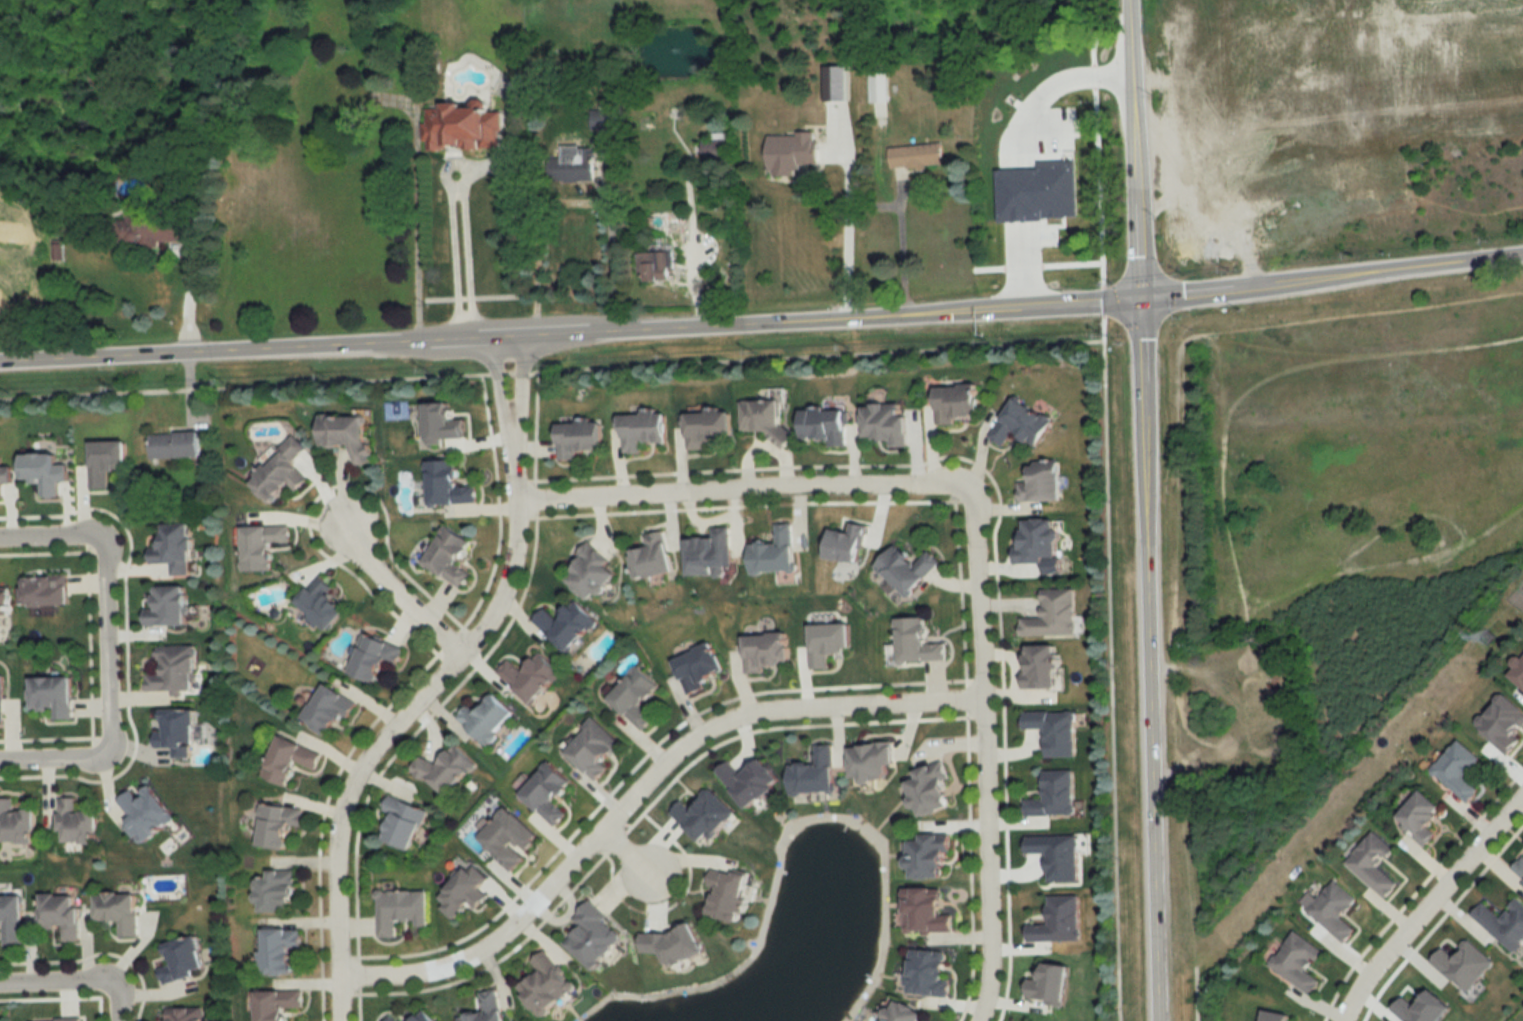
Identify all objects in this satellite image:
road: (1055, 84)
building: (1004, 99)
building: (604, 120)
building: (464, 128)
building: (715, 149)
building: (918, 156)
building: (994, 160)
building: (573, 164)
building: (1037, 184)
road: (571, 200)
building: (148, 227)
road: (847, 230)
road: (907, 257)
road: (466, 258)
road: (1025, 263)
building: (654, 267)
road: (188, 295)
road: (762, 324)
building: (959, 403)
building: (766, 419)
building: (887, 423)
building: (1022, 424)
building: (827, 426)
building: (708, 428)
building: (643, 431)
road: (512, 433)
building: (346, 434)
building: (578, 439)
building: (174, 445)
building: (106, 462)
building: (46, 472)
building: (280, 473)
building: (5, 477)
building: (447, 485)
building: (1043, 485)
road: (741, 491)
road: (1145, 510)
road: (49, 541)
building: (1040, 542)
building: (848, 544)
building: (261, 546)
building: (175, 549)
building: (775, 553)
building: (710, 555)
building: (449, 557)
building: (653, 557)
building: (908, 569)
building: (592, 573)
road: (389, 590)
building: (46, 592)
building: (5, 604)
building: (323, 605)
building: (169, 608)
building: (1053, 615)
building: (567, 626)
power tower: (1484, 637)
building: (918, 642)
road: (106, 649)
building: (766, 653)
building: (374, 659)
building: (1042, 667)
building: (700, 668)
building: (174, 671)
building: (531, 678)
building: (636, 697)
building: (54, 698)
building: (1, 705)
building: (328, 711)
road: (402, 718)
building: (487, 719)
building: (179, 730)
building: (1055, 731)
building: (594, 750)
road: (984, 758)
building: (288, 761)
road: (54, 763)
building: (872, 763)
building: (1459, 771)
building: (445, 772)
building: (815, 774)
building: (749, 783)
building: (931, 791)
building: (547, 793)
road: (638, 793)
building: (1055, 796)
building: (146, 814)
building: (705, 817)
building: (1421, 818)
building: (403, 823)
building: (78, 824)
building: (16, 825)
building: (277, 825)
building: (509, 839)
building: (1057, 856)
road: (627, 857)
building: (929, 859)
building: (1373, 864)
building: (1519, 867)
building: (276, 892)
building: (465, 892)
building: (728, 895)
road: (1429, 906)
building: (119, 910)
building: (400, 910)
building: (1334, 911)
building: (924, 912)
building: (61, 913)
building: (11, 918)
building: (1059, 922)
building: (1504, 924)
building: (592, 936)
building: (671, 945)
building: (280, 949)
building: (183, 959)
building: (1298, 963)
building: (928, 973)
building: (546, 986)
road: (55, 987)
road: (119, 1004)
building: (277, 1004)
building: (488, 1008)
building: (904, 1013)
building: (186, 1014)
building: (425, 1016)
building: (391, 1018)
building: (63, 1020)

